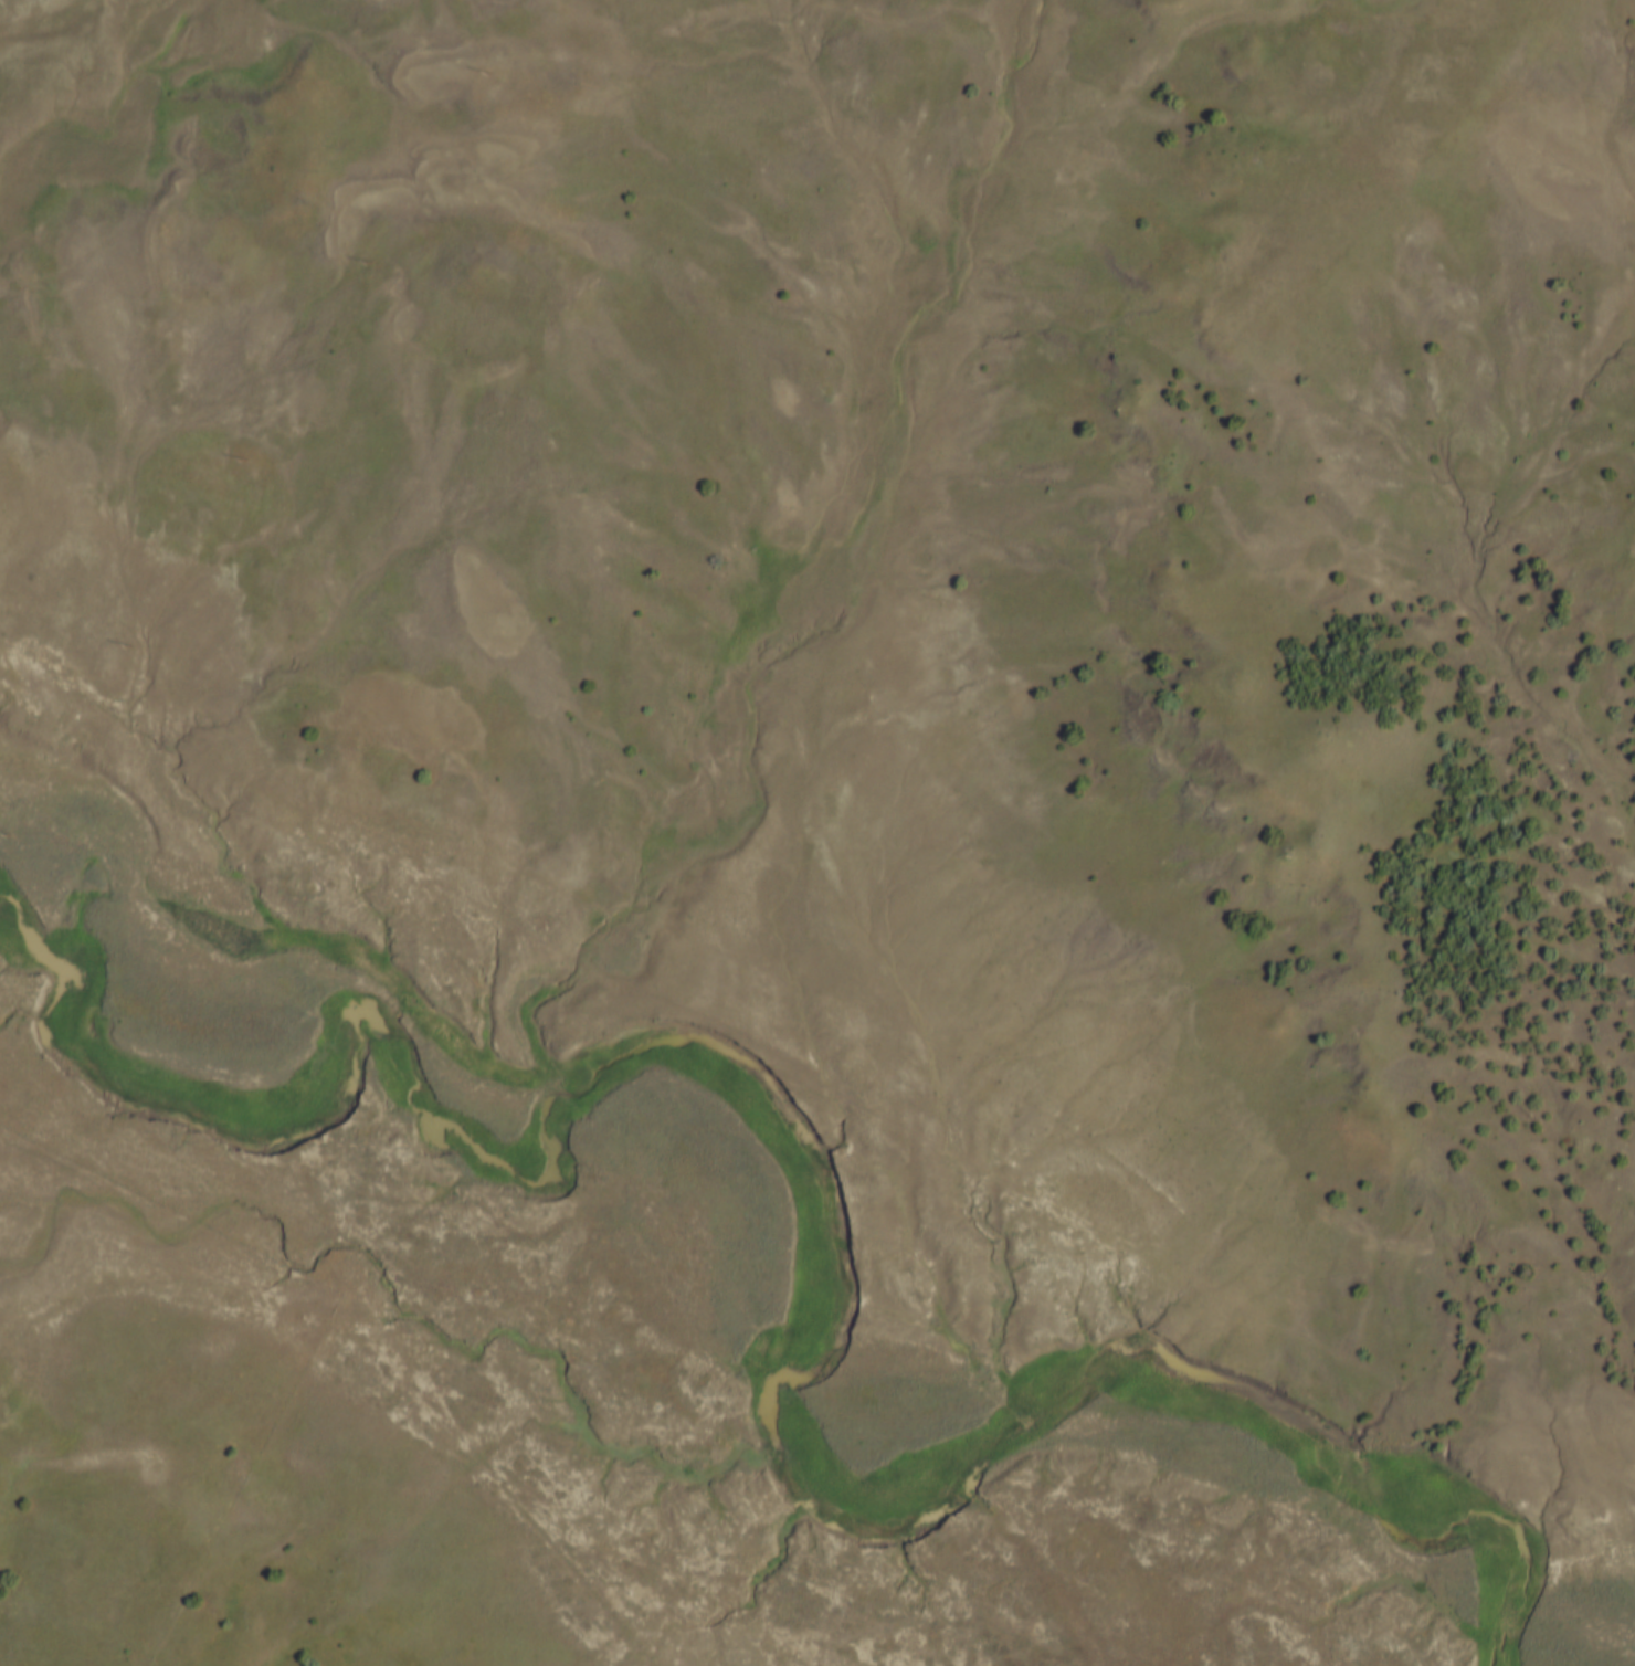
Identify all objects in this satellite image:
river: (1501, 1637)

